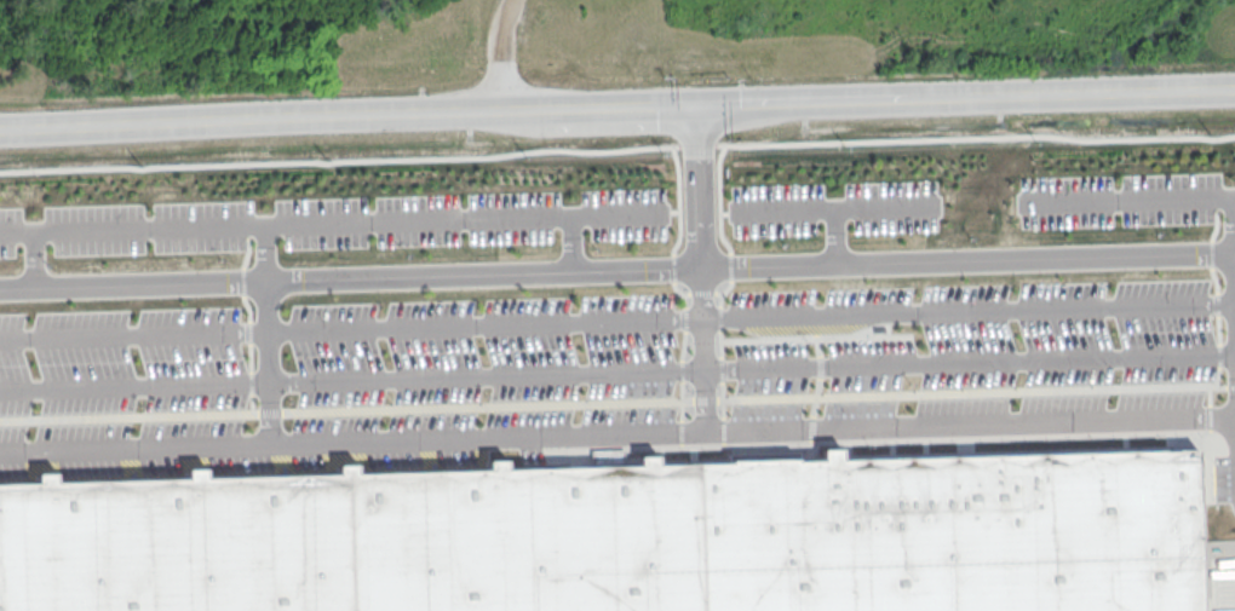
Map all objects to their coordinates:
road: (495, 56)
road: (617, 110)
road: (499, 132)
road: (712, 195)
road: (1139, 211)
road: (849, 220)
road: (334, 235)
road: (850, 249)
road: (587, 258)
road: (278, 265)
road: (48, 271)
road: (976, 273)
road: (358, 292)
road: (717, 310)
road: (976, 325)
road: (358, 344)
road: (717, 363)
road: (283, 373)
road: (976, 377)
road: (358, 394)
road: (717, 417)
road: (617, 446)
building: (638, 549)

